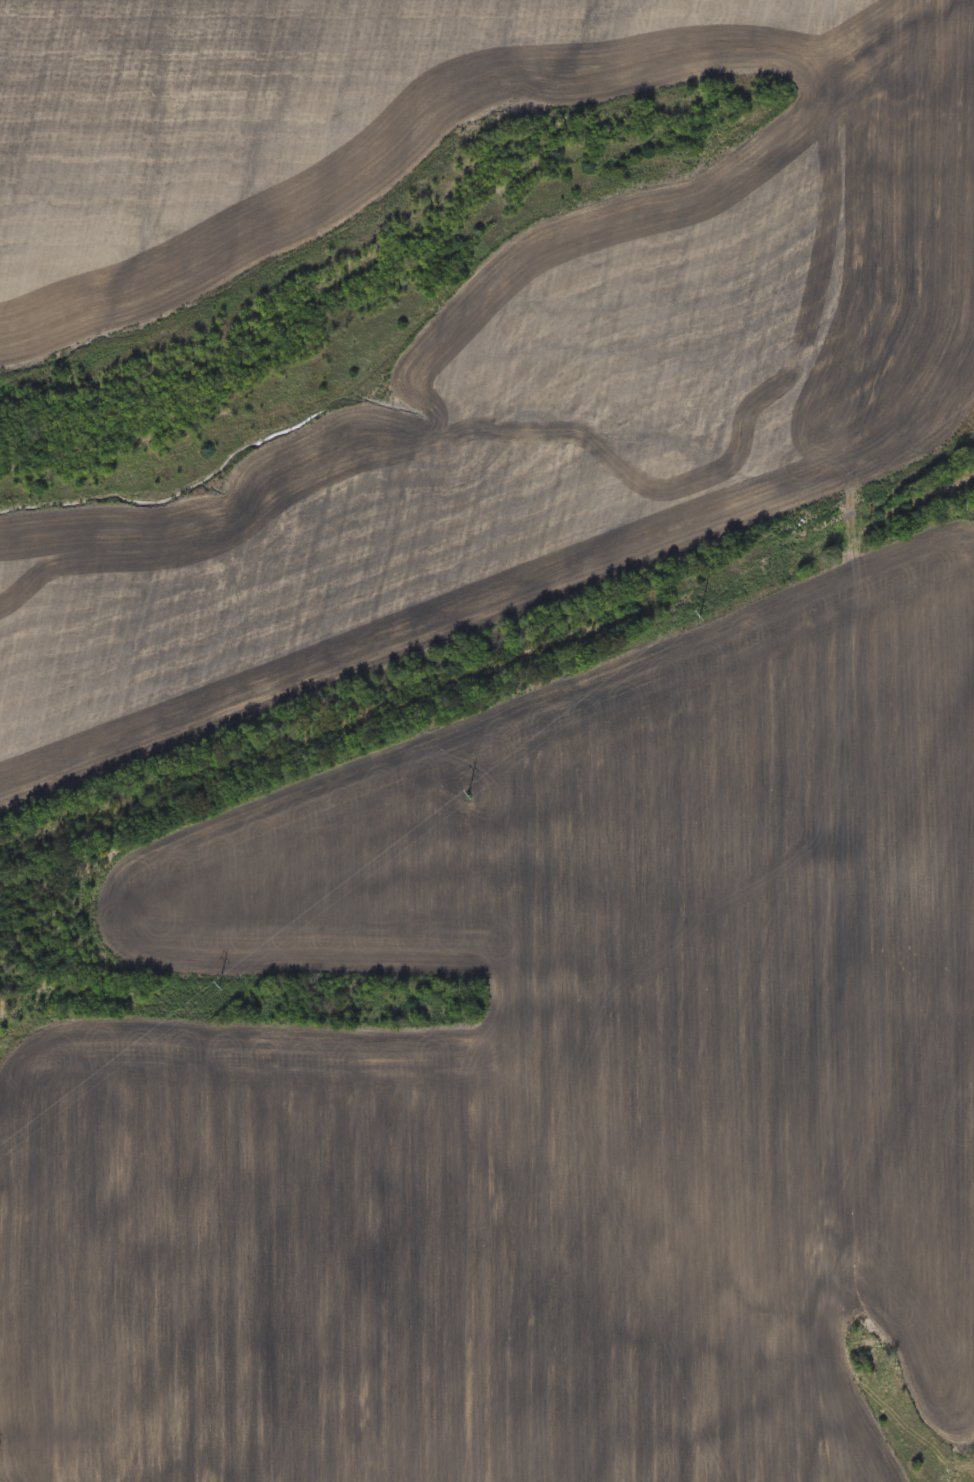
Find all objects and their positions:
power tower: (683, 615)
power tower: (477, 793)
power tower: (207, 989)

